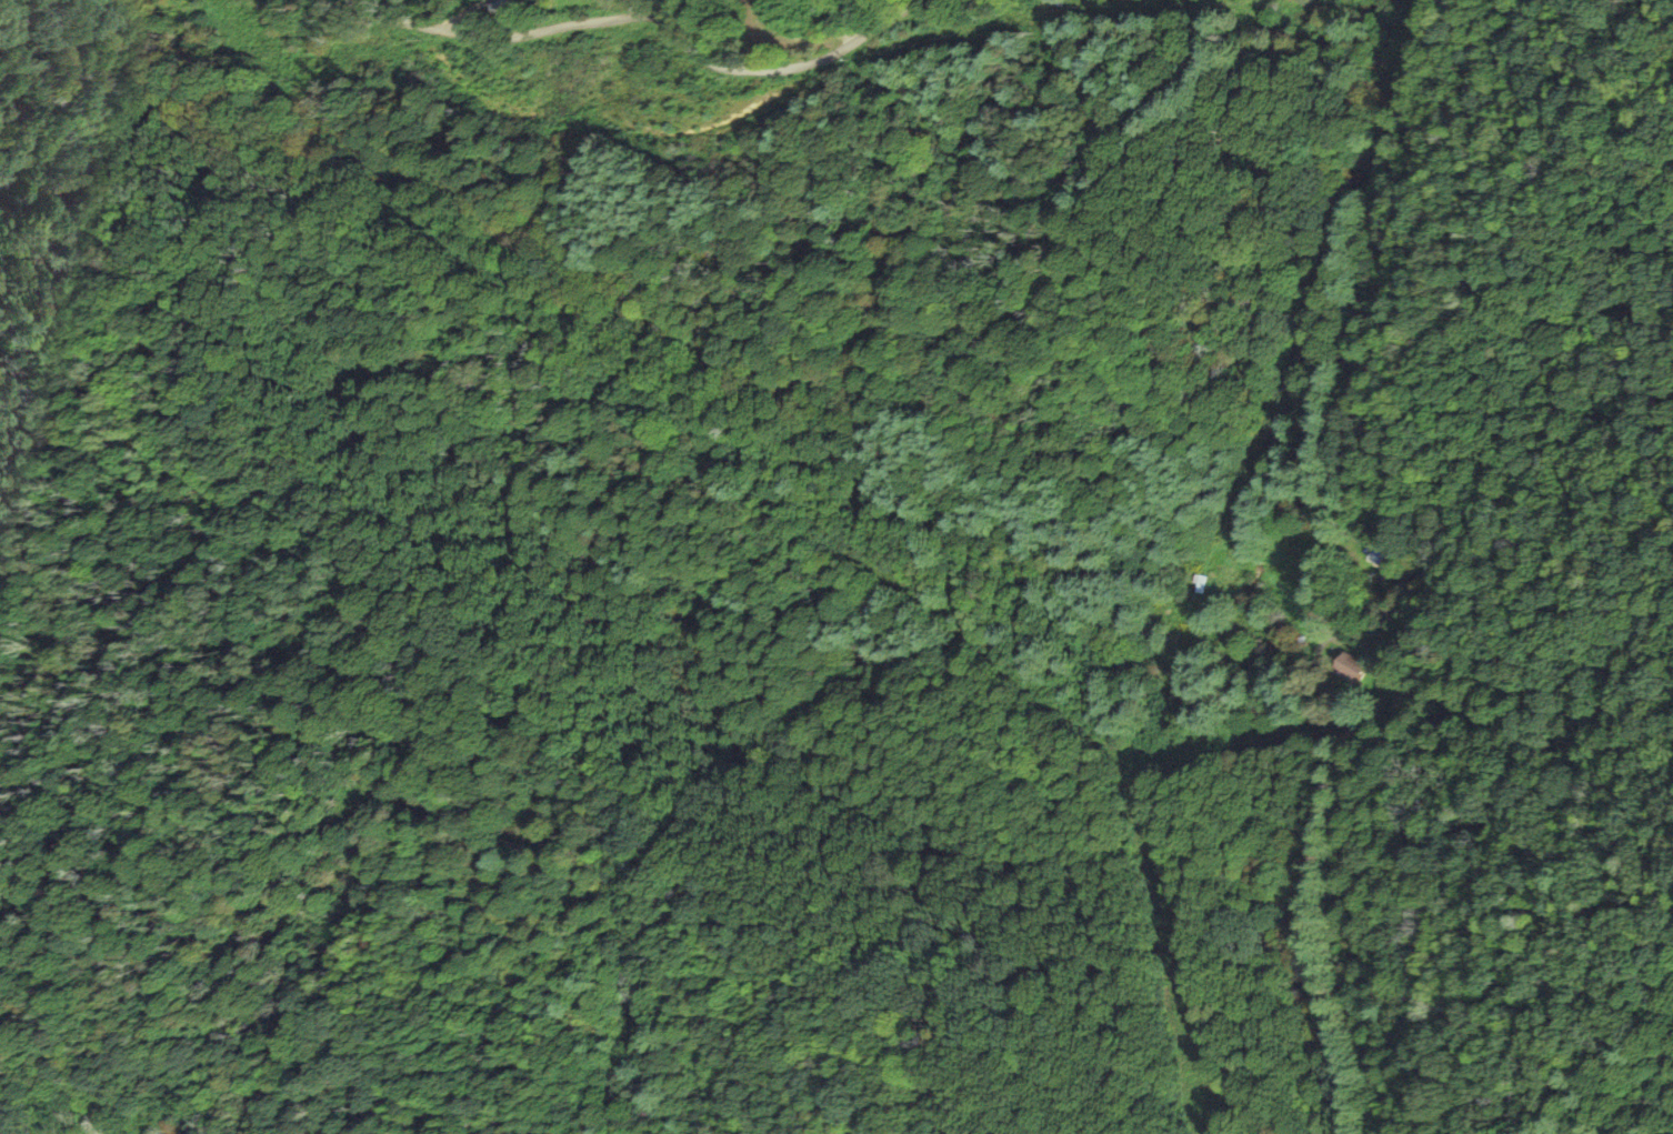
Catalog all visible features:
road: (654, 13)
building: (1376, 56)
building: (1192, 584)
building: (1344, 668)

